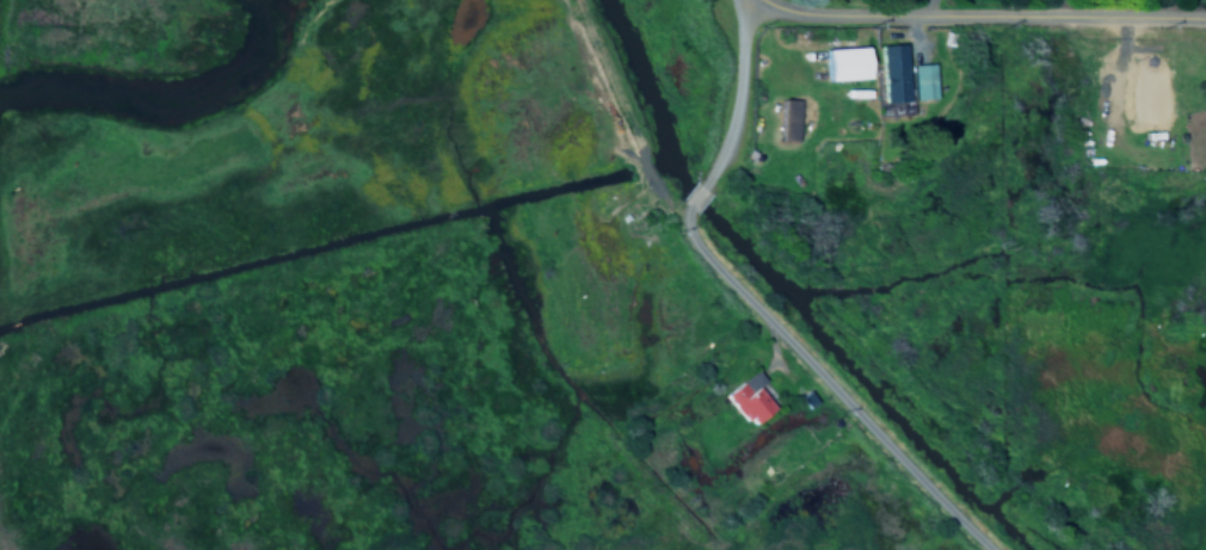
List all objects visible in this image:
road: (976, 17)
building: (844, 64)
building: (890, 74)
building: (921, 82)
road: (733, 97)
building: (784, 122)
road: (694, 199)
road: (825, 384)
building: (746, 401)

